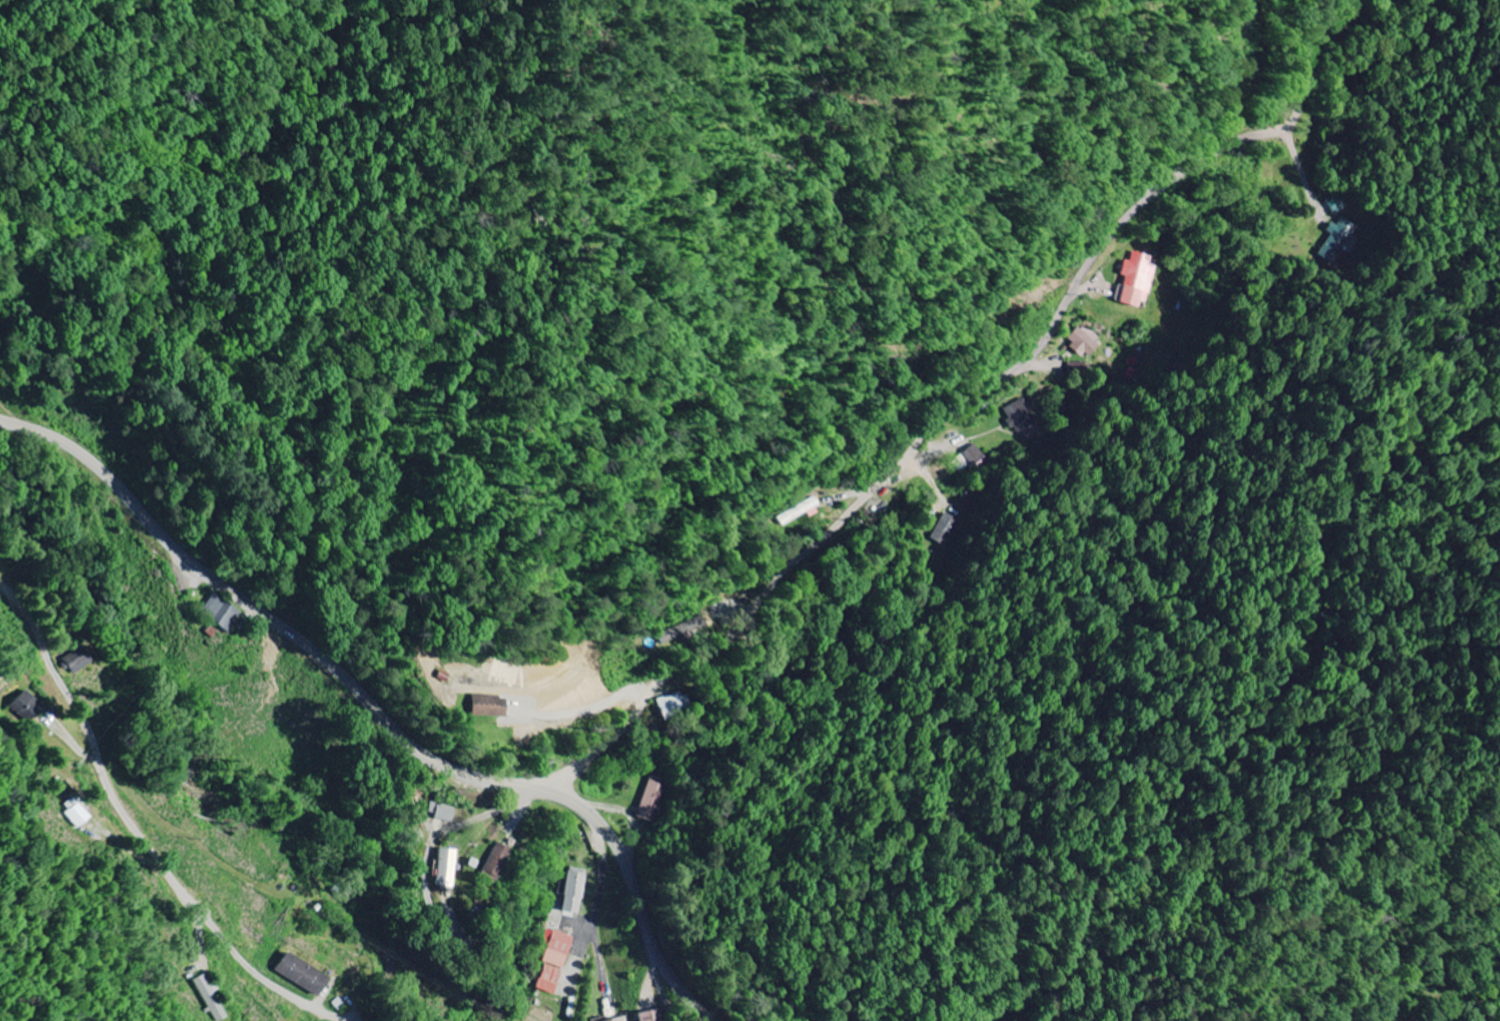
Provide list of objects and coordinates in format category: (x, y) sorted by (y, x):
building: (1332, 206)
building: (1335, 241)
building: (1132, 280)
road: (1114, 293)
building: (1081, 344)
road: (971, 396)
building: (1017, 416)
building: (967, 459)
building: (942, 530)
building: (225, 611)
building: (80, 660)
building: (26, 707)
building: (484, 707)
road: (378, 711)
road: (339, 727)
building: (649, 799)
building: (440, 812)
building: (78, 813)
road: (601, 833)
road: (142, 837)
building: (491, 862)
building: (444, 869)
building: (570, 891)
road: (602, 900)
building: (554, 948)
building: (306, 975)
road: (656, 979)
building: (545, 980)
building: (647, 1016)
building: (617, 1020)

